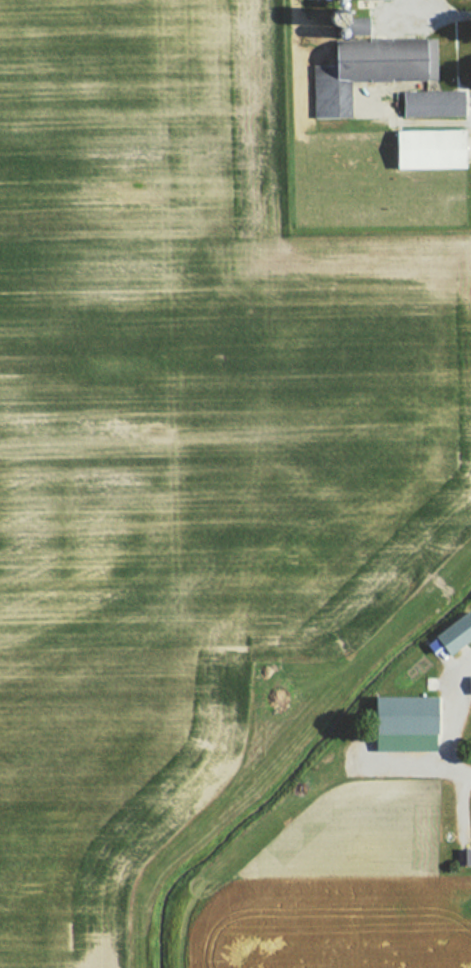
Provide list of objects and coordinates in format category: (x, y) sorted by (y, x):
building: (433, 104)
building: (431, 150)
crop: (185, 435)
building: (469, 685)
road: (446, 720)
crop: (333, 924)

